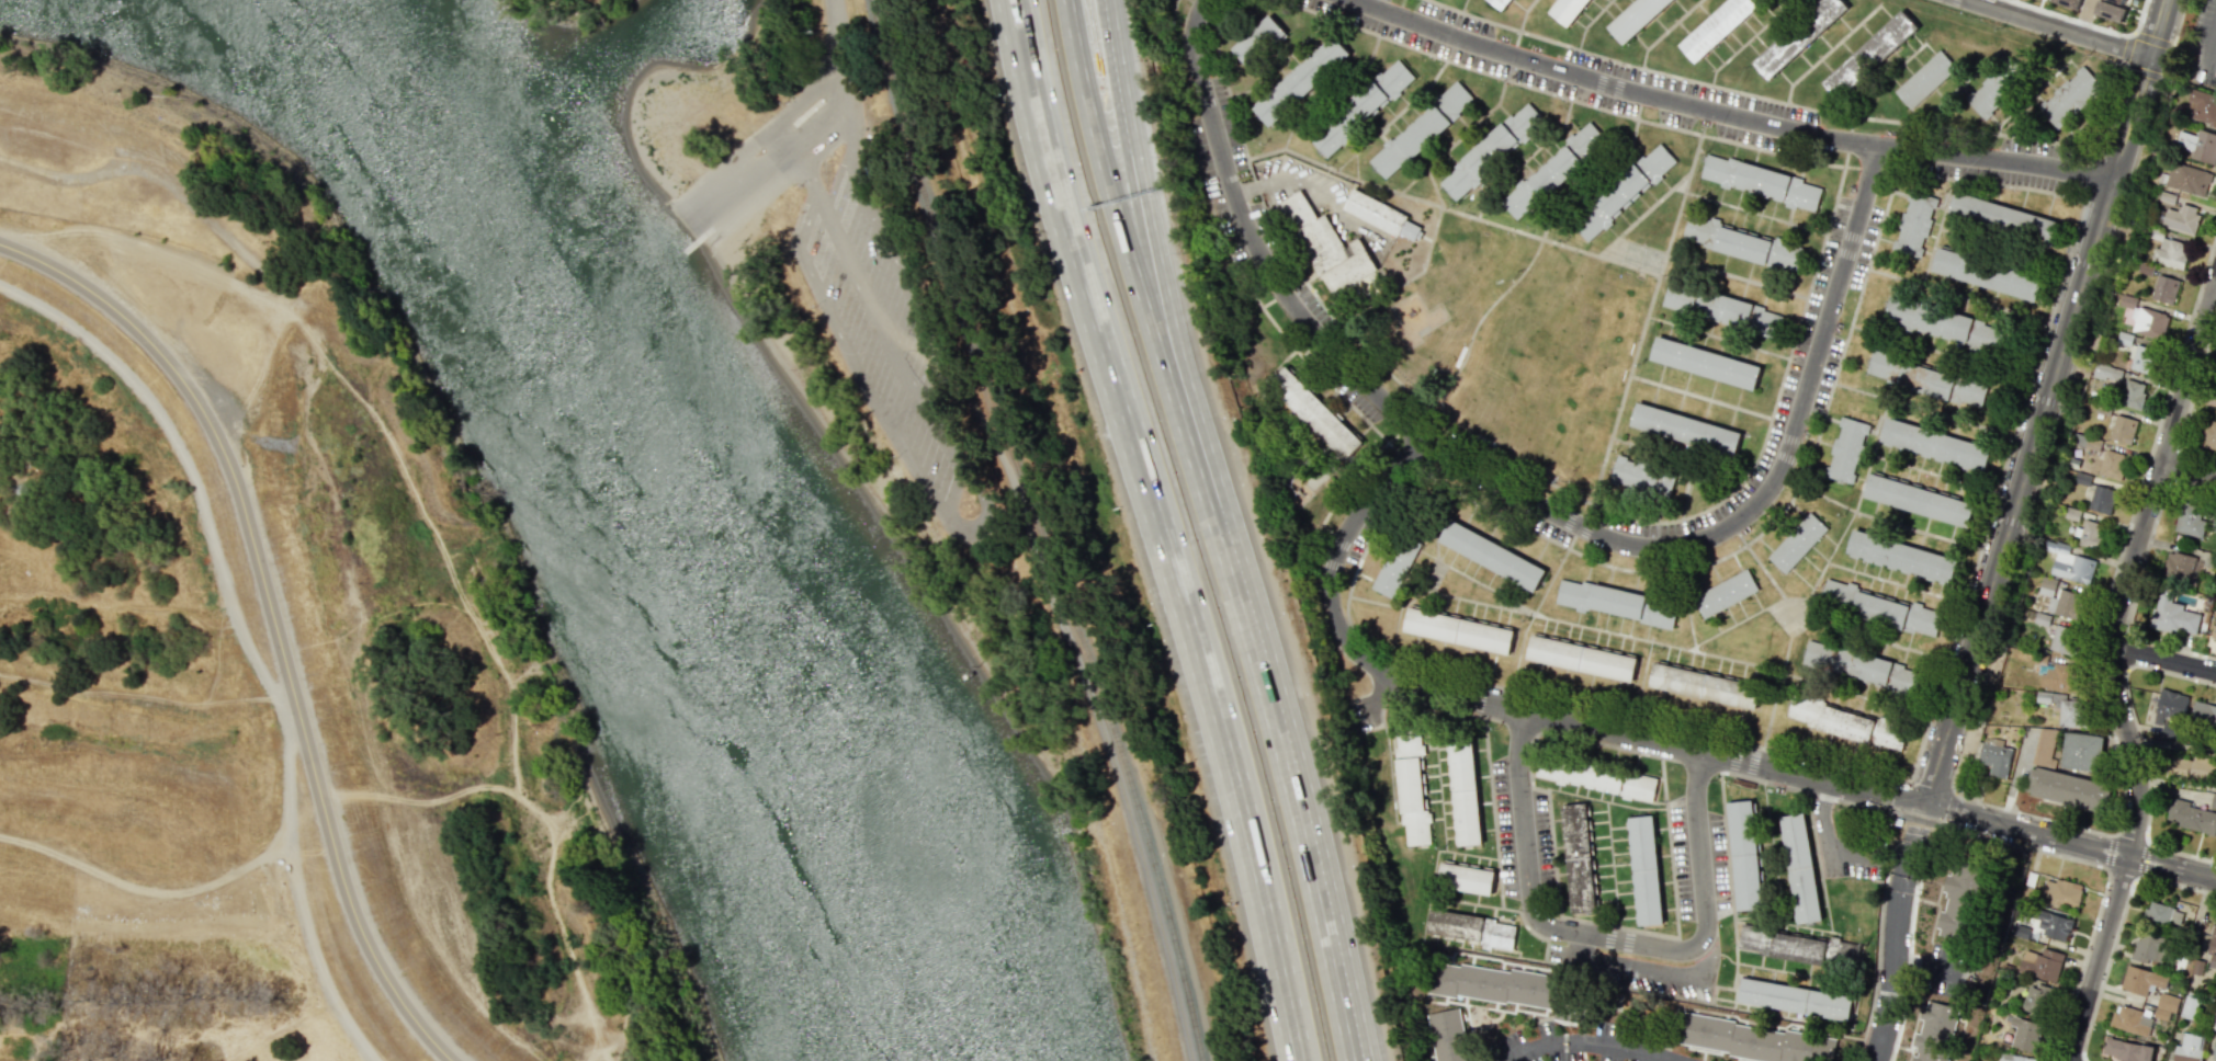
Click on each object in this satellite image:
building: (2121, 1)
building: (2067, 2)
park: (578, 3)
building: (1501, 4)
building: (1567, 10)
building: (2110, 11)
road: (2082, 16)
building: (1636, 18)
building: (1718, 26)
road: (2058, 27)
building: (1798, 36)
road: (2209, 38)
building: (1258, 41)
building: (1869, 54)
road: (829, 58)
building: (1925, 79)
building: (1303, 80)
road: (1612, 85)
railway: (900, 88)
building: (2000, 88)
railway: (894, 89)
building: (2074, 96)
building: (1360, 105)
building: (2203, 106)
road: (1126, 110)
building: (1422, 128)
road: (1051, 133)
road: (1039, 134)
building: (2198, 145)
building: (1492, 151)
road: (1105, 157)
road: (1993, 159)
road: (756, 170)
building: (1552, 170)
road: (1296, 178)
building: (2184, 179)
building: (1761, 182)
building: (1625, 191)
building: (1381, 215)
building: (2004, 217)
building: (2181, 219)
building: (1913, 224)
building: (1744, 242)
building: (2169, 251)
building: (1330, 252)
park: (1640, 258)
road: (1153, 263)
building: (1986, 273)
park: (849, 285)
building: (2163, 289)
road: (2215, 292)
road: (864, 308)
building: (1726, 309)
building: (2148, 322)
building: (1969, 332)
parking lot: (883, 335)
building: (2142, 360)
building: (1707, 362)
building: (2106, 373)
building: (1952, 385)
building: (2133, 395)
building: (2215, 399)
road: (2044, 403)
building: (1315, 413)
building: (1687, 429)
building: (2122, 429)
building: (2208, 435)
building: (1935, 443)
building: (1845, 449)
building: (2106, 461)
road: (189, 465)
road: (2189, 474)
building: (1644, 476)
road: (1526, 498)
building: (1919, 498)
building: (2100, 499)
river: (681, 504)
building: (2190, 518)
building: (2090, 534)
building: (1797, 540)
building: (1491, 552)
building: (1901, 556)
road: (1336, 557)
road: (1039, 561)
building: (2070, 564)
building: (1394, 566)
building: (2178, 567)
road: (2132, 570)
building: (1836, 591)
building: (1726, 593)
building: (2060, 600)
building: (1616, 603)
building: (1896, 613)
road: (273, 615)
railway: (1073, 615)
building: (2173, 615)
building: (1457, 628)
building: (2214, 629)
building: (2064, 639)
building: (1817, 654)
building: (1581, 655)
road: (1203, 659)
road: (2164, 659)
building: (1876, 671)
building: (2057, 677)
road: (1271, 681)
building: (1705, 684)
road: (1387, 697)
building: (2046, 697)
building: (2071, 712)
building: (2169, 712)
building: (2203, 714)
building: (1845, 722)
road: (1654, 740)
building: (2045, 748)
building: (2081, 751)
building: (1994, 758)
building: (2194, 766)
building: (1595, 777)
building: (1411, 787)
building: (1463, 789)
building: (2068, 789)
building: (2213, 801)
building: (2192, 817)
road: (1917, 830)
road: (1824, 835)
road: (2068, 842)
building: (1744, 855)
building: (1580, 858)
building: (1800, 868)
building: (1644, 871)
building: (1466, 878)
building: (2062, 892)
building: (1957, 903)
building: (2162, 914)
building: (2054, 925)
building: (1472, 929)
building: (2020, 931)
road: (1612, 938)
building: (1752, 939)
building: (2212, 946)
building: (2147, 948)
building: (1813, 950)
road: (1892, 957)
road: (2099, 958)
building: (2040, 963)
road: (1629, 969)
building: (2140, 980)
building: (1503, 988)
building: (1795, 997)
building: (2035, 999)
building: (2164, 1005)
building: (2190, 1006)
building: (2214, 1016)
building: (2132, 1020)
building: (1934, 1031)
building: (2024, 1034)
building: (1447, 1036)
road: (1588, 1040)
building: (1752, 1040)
building: (2189, 1048)
building: (2119, 1050)
building: (2214, 1050)
building: (2146, 1052)
building: (2013, 1058)

